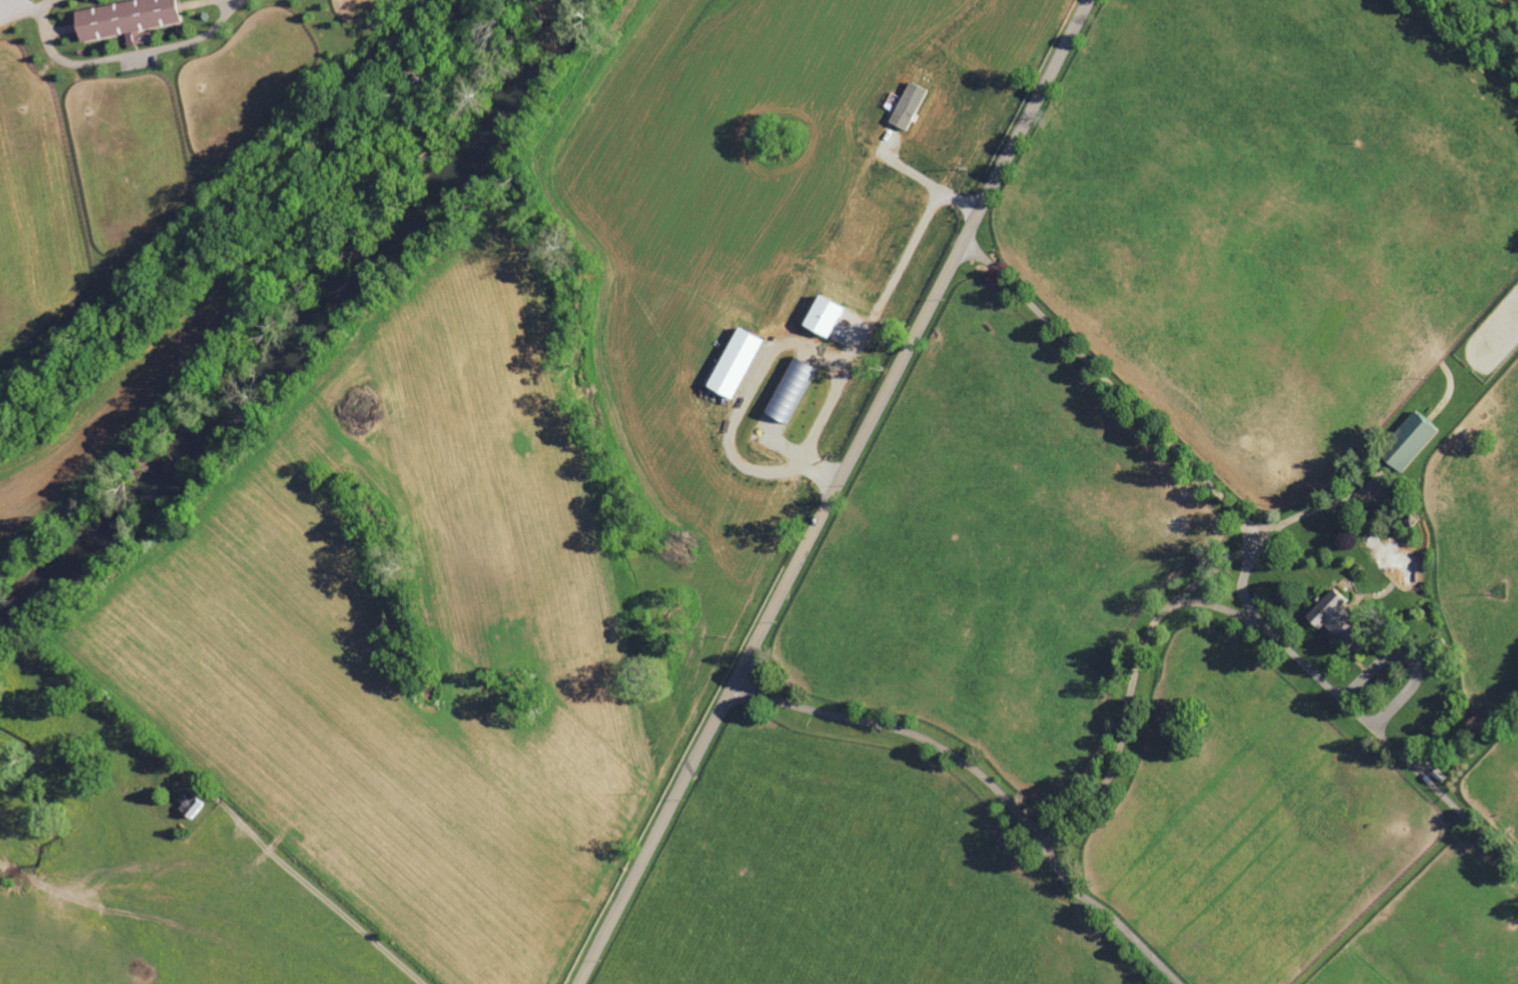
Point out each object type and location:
building: (127, 19)
road: (121, 56)
building: (1405, 443)
road: (839, 491)
road: (1319, 507)
road: (1253, 552)
road: (1218, 607)
building: (1334, 622)
road: (1136, 677)
road: (991, 786)
road: (318, 894)

